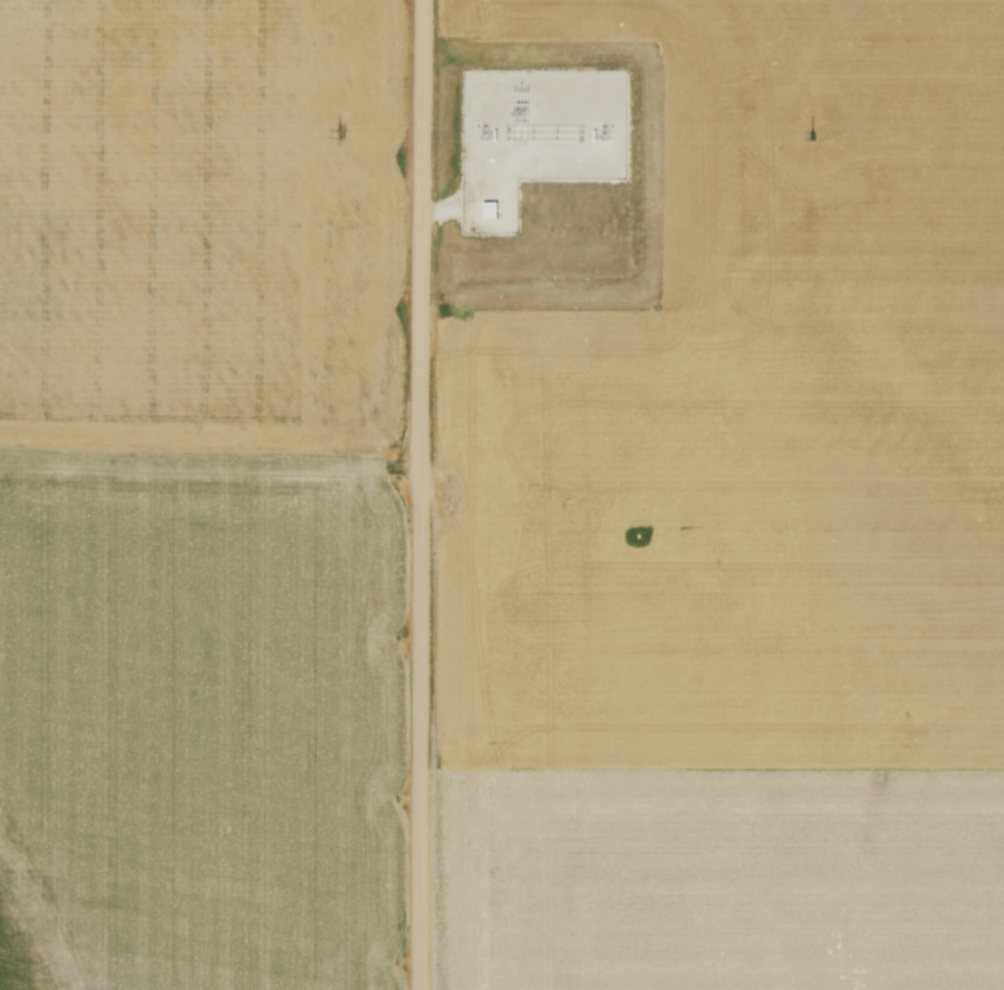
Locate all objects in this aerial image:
power tower: (338, 135)
power substation: (535, 136)
power tower: (810, 136)
road: (474, 196)
crop: (200, 495)
road: (419, 495)
crop: (737, 522)

